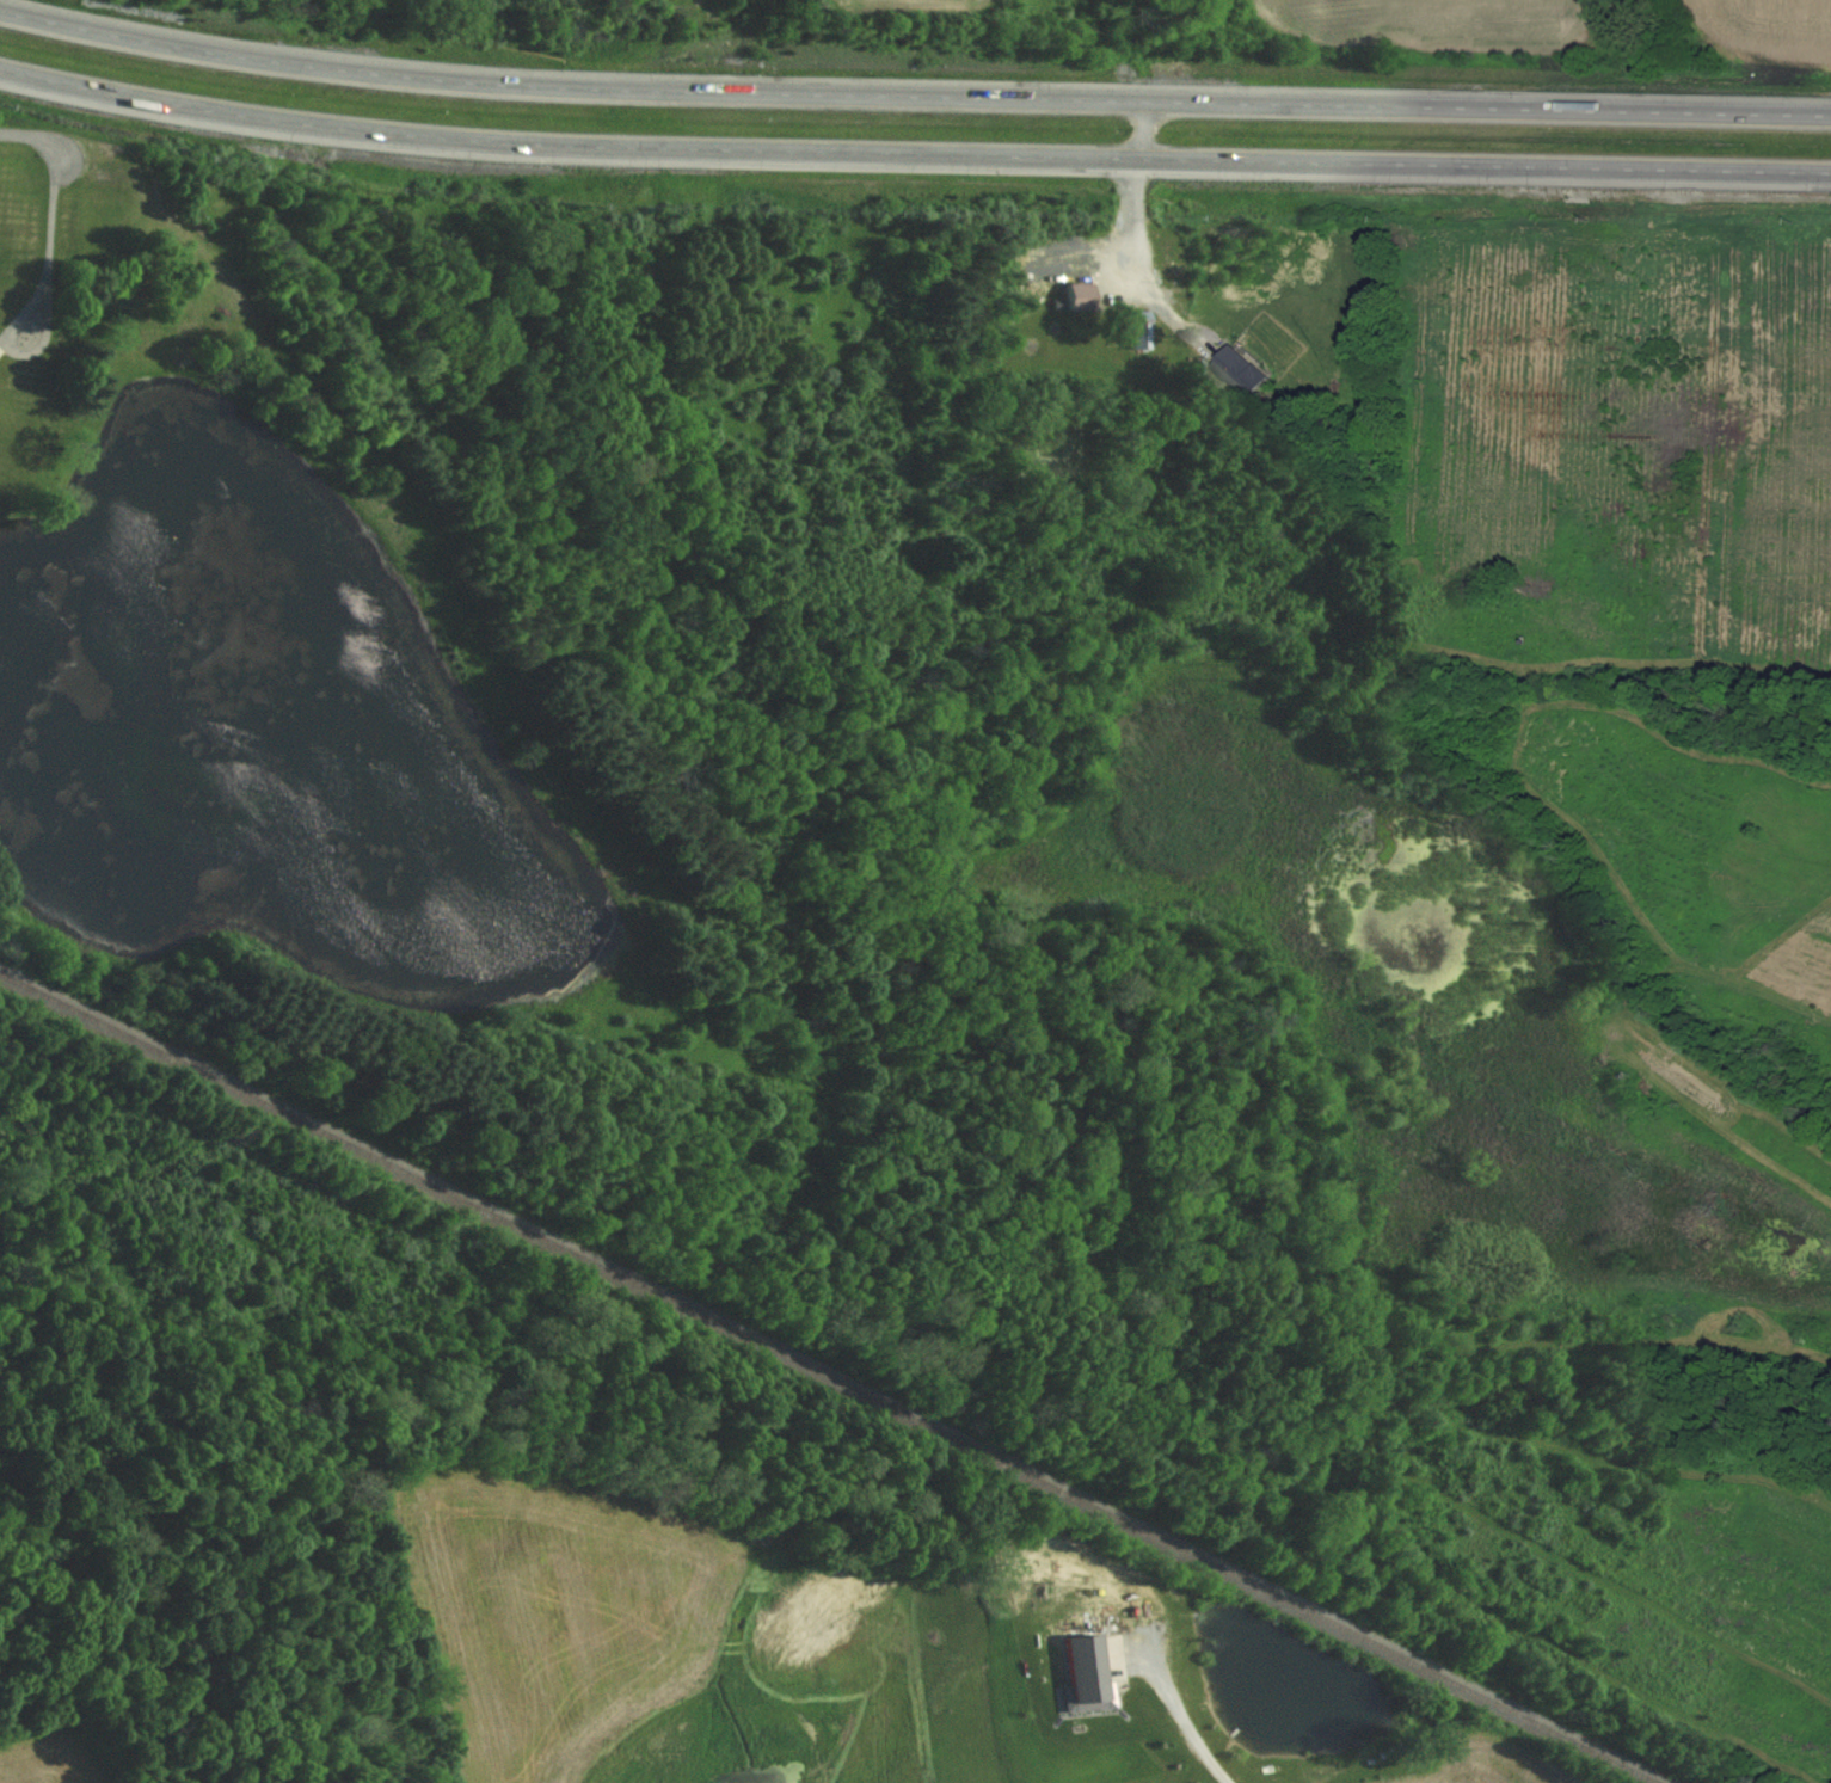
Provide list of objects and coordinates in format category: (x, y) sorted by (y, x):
road: (911, 97)
road: (32, 137)
road: (911, 154)
road: (51, 250)
road: (1142, 259)
building: (1080, 297)
building: (1138, 330)
building: (1241, 375)
railway: (829, 1377)
building: (1093, 1671)
road: (1186, 1727)

